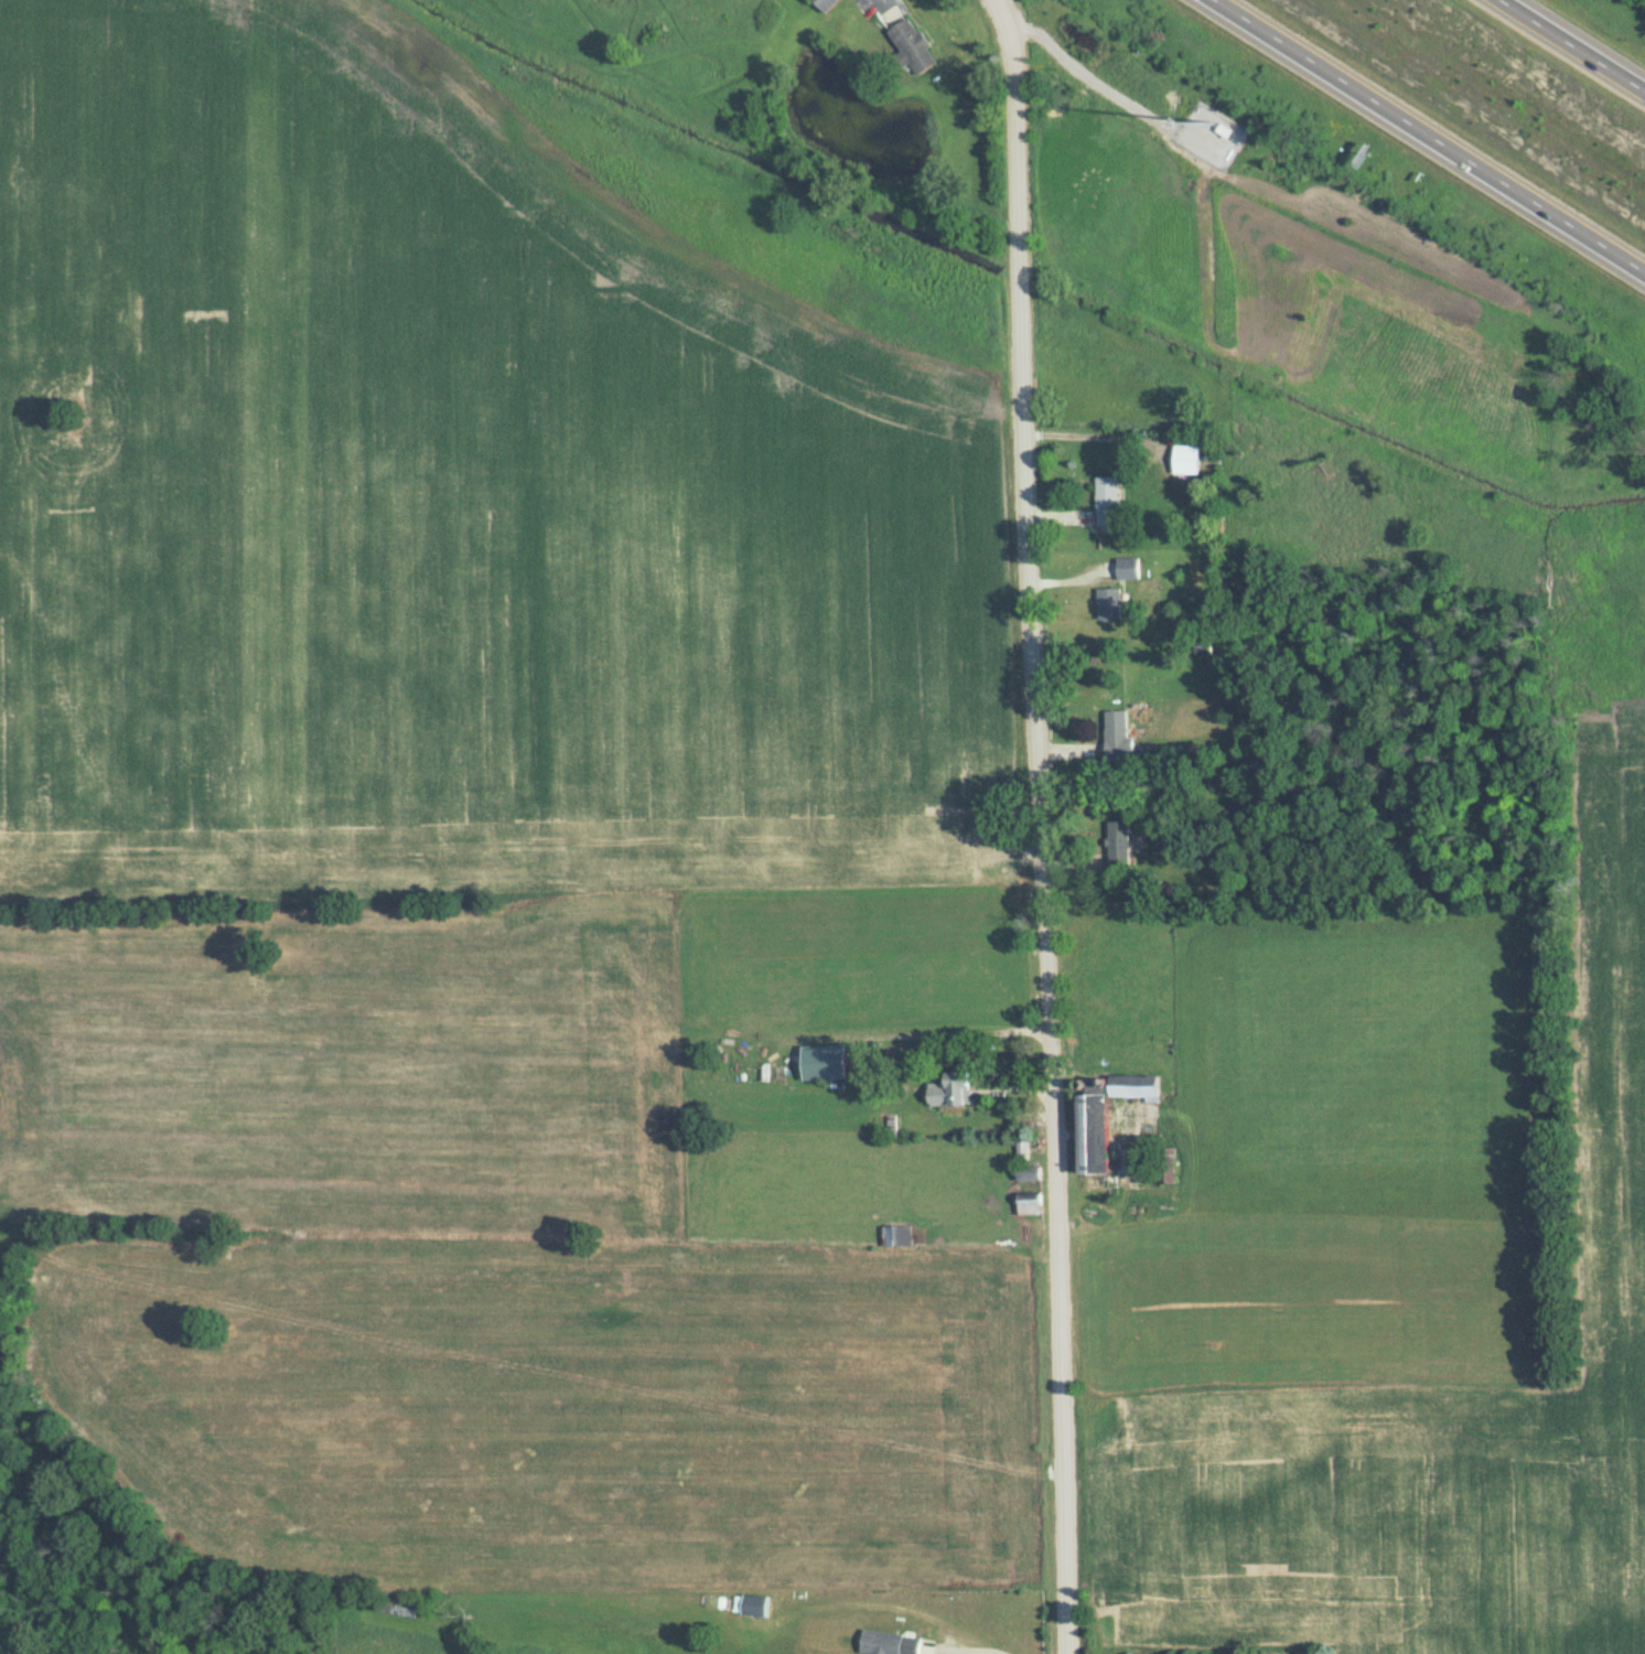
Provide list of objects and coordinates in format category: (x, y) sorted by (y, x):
building: (825, 4)
road: (1573, 44)
building: (912, 46)
road: (1086, 64)
road: (1429, 138)
building: (1185, 458)
building: (1107, 501)
building: (1128, 568)
building: (1109, 604)
building: (1117, 737)
road: (1036, 825)
building: (1118, 845)
building: (1132, 1085)
building: (949, 1089)
building: (1090, 1132)
building: (1029, 1204)
building: (897, 1236)
building: (755, 1604)
building: (397, 1609)
building: (891, 1643)
road: (977, 1645)

